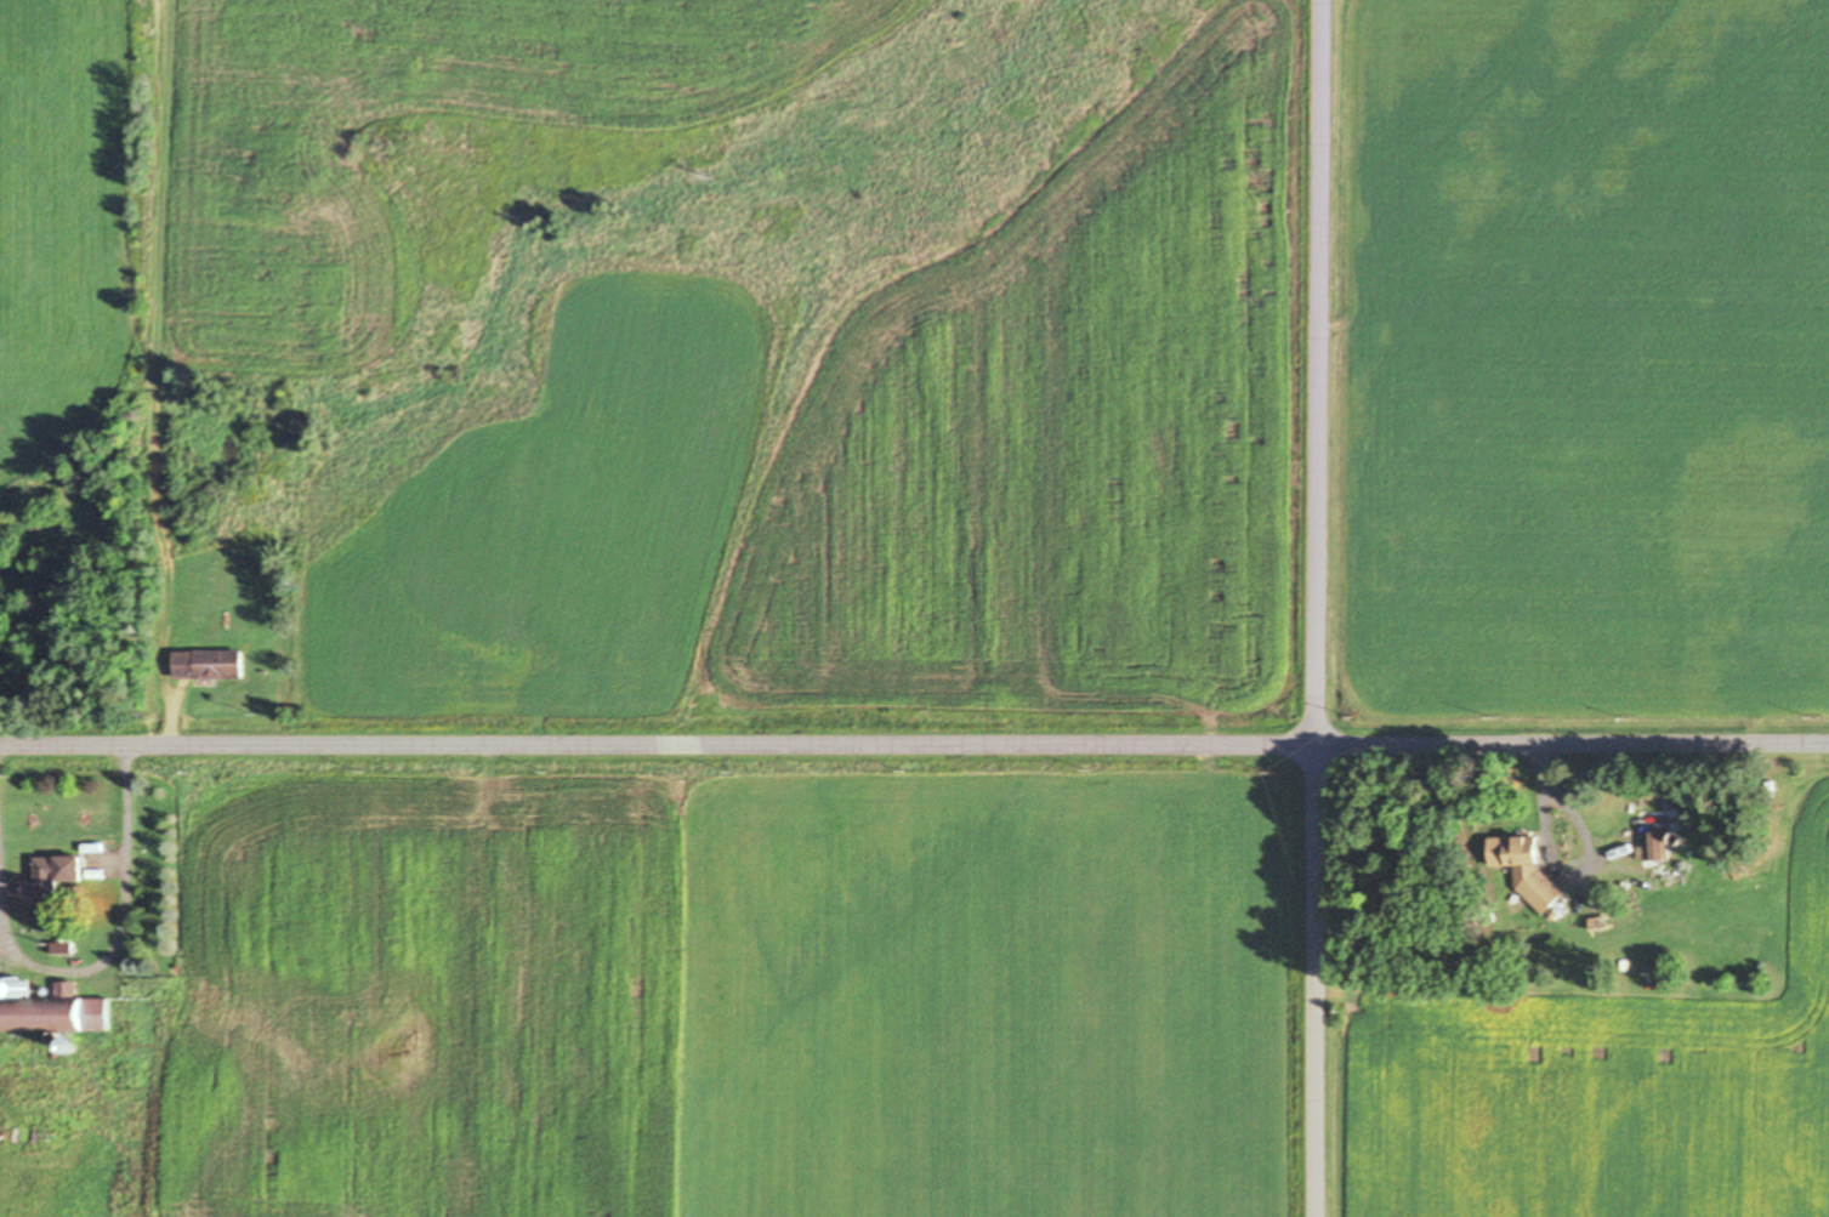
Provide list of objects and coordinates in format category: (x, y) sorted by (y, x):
road: (1316, 608)
building: (208, 664)
road: (914, 745)
building: (1659, 843)
building: (1528, 868)
building: (56, 871)
building: (51, 1014)

